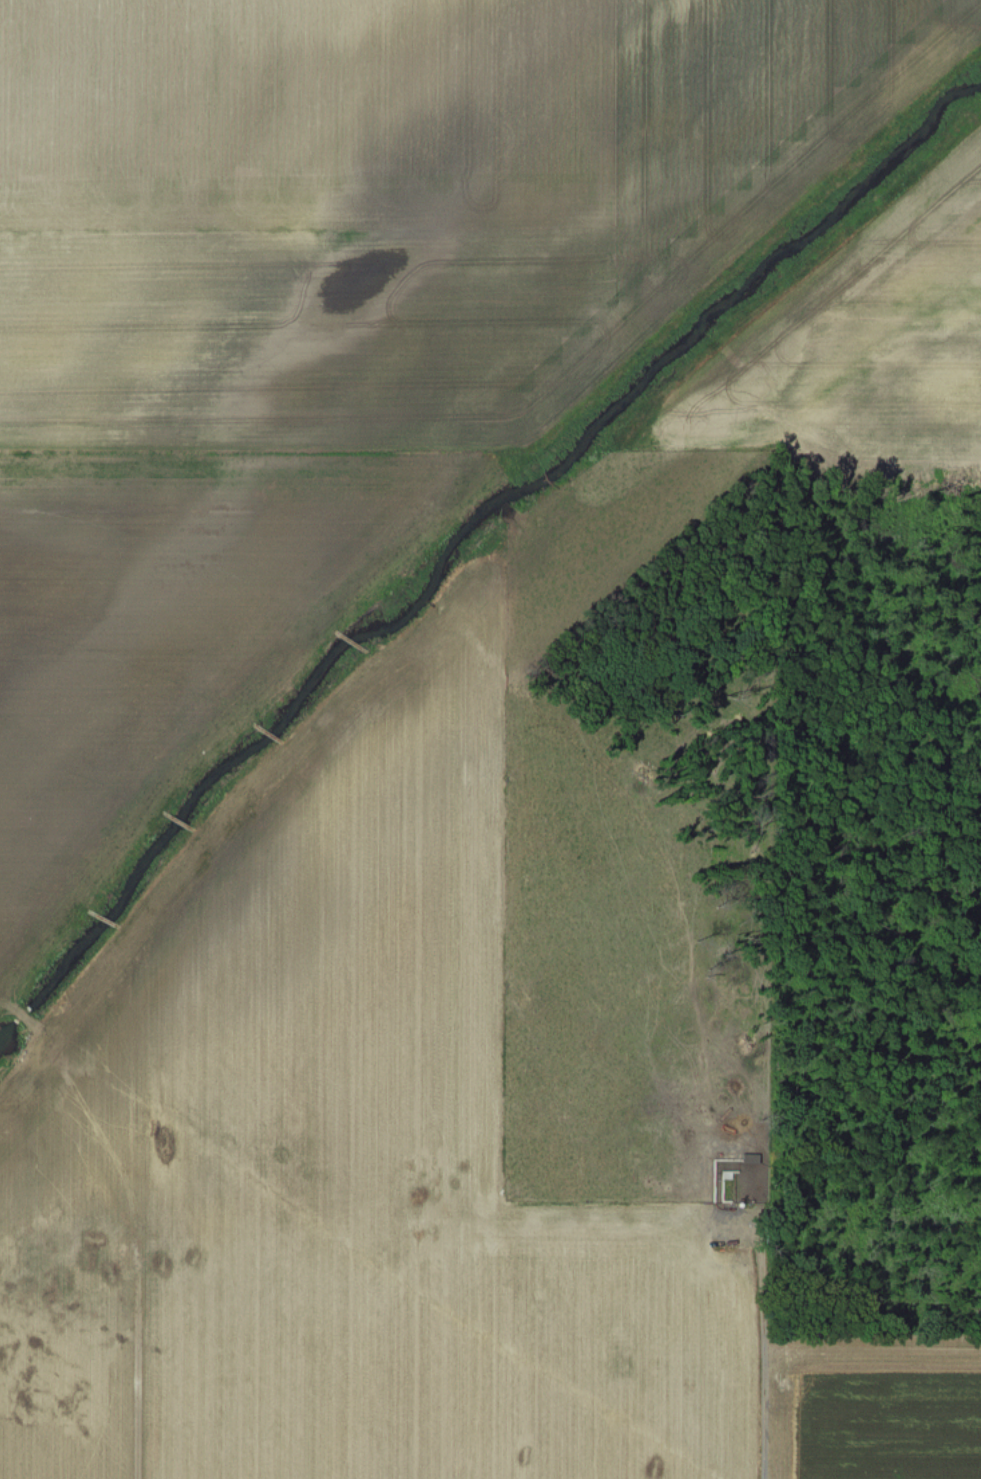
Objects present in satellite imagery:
building: (107, 1259)
building: (14, 1263)
building: (159, 1265)
road: (138, 1365)

